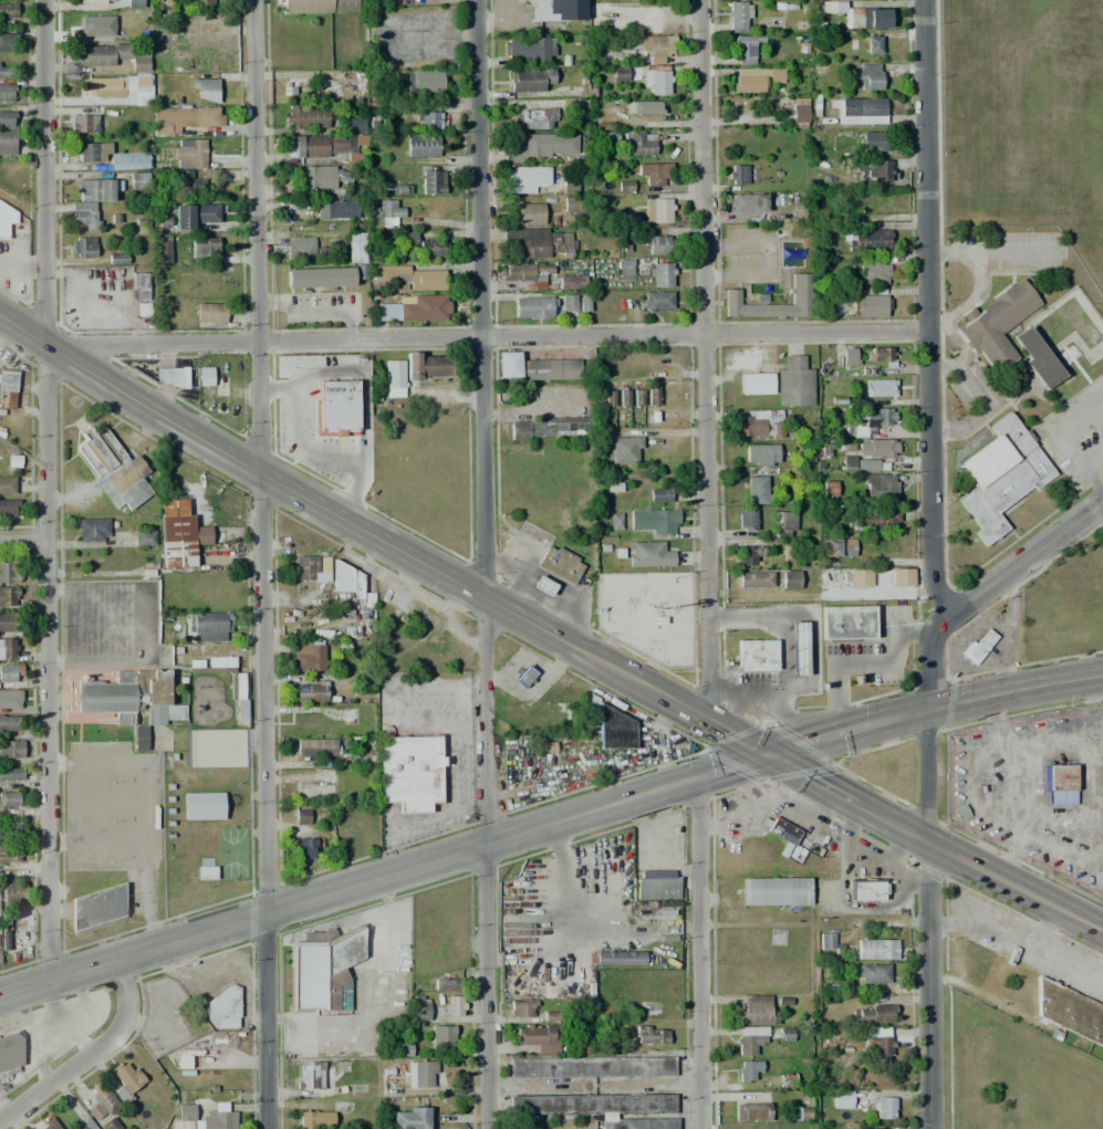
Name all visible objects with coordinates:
building: (87, 1)
building: (135, 3)
building: (198, 3)
building: (318, 7)
building: (7, 10)
building: (558, 10)
building: (739, 17)
building: (866, 18)
building: (84, 29)
building: (8, 42)
building: (873, 43)
building: (656, 46)
building: (528, 50)
building: (745, 50)
building: (105, 53)
building: (6, 70)
building: (618, 74)
building: (866, 75)
building: (756, 79)
building: (531, 80)
building: (655, 80)
building: (424, 81)
building: (295, 86)
building: (105, 87)
building: (206, 90)
building: (7, 92)
building: (643, 107)
building: (859, 111)
building: (799, 112)
building: (305, 116)
building: (7, 118)
building: (181, 118)
building: (537, 119)
building: (429, 121)
building: (83, 124)
building: (353, 124)
building: (874, 142)
building: (7, 143)
building: (638, 143)
building: (326, 144)
building: (540, 145)
building: (422, 146)
building: (93, 151)
building: (187, 154)
building: (124, 163)
road: (48, 169)
building: (874, 169)
building: (654, 174)
building: (738, 175)
building: (324, 176)
building: (526, 178)
building: (138, 181)
building: (431, 182)
building: (187, 185)
building: (568, 187)
building: (97, 189)
building: (400, 189)
building: (747, 202)
building: (863, 203)
building: (573, 208)
building: (341, 210)
building: (389, 210)
building: (656, 210)
building: (528, 213)
building: (194, 215)
building: (84, 216)
building: (7, 219)
building: (408, 239)
building: (866, 240)
building: (534, 242)
building: (299, 244)
building: (664, 245)
building: (83, 247)
building: (205, 247)
building: (356, 247)
building: (431, 247)
building: (163, 251)
building: (117, 258)
building: (526, 270)
building: (648, 272)
building: (874, 273)
building: (319, 276)
building: (409, 276)
building: (568, 282)
building: (135, 285)
building: (803, 299)
building: (657, 300)
building: (568, 302)
building: (584, 304)
building: (870, 305)
building: (533, 307)
building: (425, 309)
building: (142, 310)
road: (929, 310)
building: (210, 312)
building: (1101, 321)
building: (996, 323)
road: (489, 338)
building: (878, 353)
building: (849, 356)
building: (1037, 358)
road: (708, 359)
building: (792, 360)
building: (427, 366)
building: (534, 367)
building: (187, 373)
building: (170, 377)
building: (205, 377)
building: (394, 378)
building: (756, 384)
building: (793, 387)
building: (877, 388)
building: (8, 389)
building: (652, 393)
building: (608, 397)
building: (624, 397)
building: (637, 397)
building: (335, 409)
building: (876, 417)
building: (760, 426)
building: (550, 428)
building: (859, 431)
building: (628, 450)
building: (873, 451)
building: (760, 454)
building: (847, 462)
building: (114, 470)
building: (999, 475)
building: (7, 484)
building: (880, 485)
building: (828, 488)
building: (756, 490)
building: (659, 494)
building: (8, 508)
building: (875, 519)
building: (653, 520)
building: (746, 520)
building: (615, 521)
building: (783, 524)
building: (93, 531)
building: (179, 535)
road: (25, 539)
building: (144, 539)
road: (378, 540)
building: (837, 547)
building: (648, 554)
building: (748, 556)
road: (1027, 558)
road: (260, 564)
road: (486, 564)
building: (560, 564)
building: (312, 567)
building: (8, 572)
building: (859, 577)
building: (901, 577)
building: (753, 581)
building: (790, 581)
building: (347, 582)
building: (542, 586)
building: (9, 597)
building: (9, 621)
building: (846, 624)
building: (209, 627)
building: (978, 647)
building: (797, 648)
building: (7, 649)
building: (756, 655)
road: (52, 657)
building: (309, 657)
road: (928, 657)
building: (220, 662)
building: (8, 672)
building: (524, 677)
building: (237, 688)
road: (1016, 690)
building: (310, 691)
building: (10, 701)
building: (132, 701)
building: (306, 721)
building: (8, 725)
building: (612, 729)
building: (150, 739)
building: (12, 749)
building: (316, 750)
traffic signals: (768, 754)
building: (409, 772)
building: (11, 773)
building: (350, 777)
building: (1059, 784)
building: (316, 792)
building: (10, 798)
building: (202, 806)
building: (301, 816)
building: (354, 819)
building: (9, 830)
building: (782, 835)
road: (934, 844)
road: (462, 847)
building: (303, 848)
building: (10, 853)
building: (206, 872)
building: (656, 885)
building: (865, 889)
building: (774, 891)
building: (13, 893)
building: (97, 896)
road: (927, 917)
building: (826, 941)
building: (876, 949)
road: (697, 952)
building: (620, 958)
building: (322, 969)
building: (873, 973)
building: (446, 983)
building: (452, 1005)
building: (420, 1007)
building: (522, 1007)
building: (222, 1010)
building: (756, 1011)
building: (1070, 1011)
building: (876, 1014)
building: (550, 1016)
building: (651, 1035)
building: (441, 1037)
building: (539, 1037)
building: (583, 1038)
building: (750, 1039)
building: (878, 1046)
building: (10, 1050)
road: (87, 1054)
building: (591, 1067)
building: (752, 1069)
building: (425, 1074)
building: (309, 1076)
building: (126, 1080)
building: (788, 1080)
building: (389, 1084)
building: (104, 1098)
building: (841, 1099)
building: (593, 1104)
building: (884, 1108)
building: (94, 1111)
building: (751, 1111)
building: (798, 1114)
building: (185, 1116)
building: (409, 1118)
building: (218, 1119)
building: (316, 1120)
building: (639, 1123)
building: (84, 1125)
building: (110, 1125)
building: (51, 1126)

